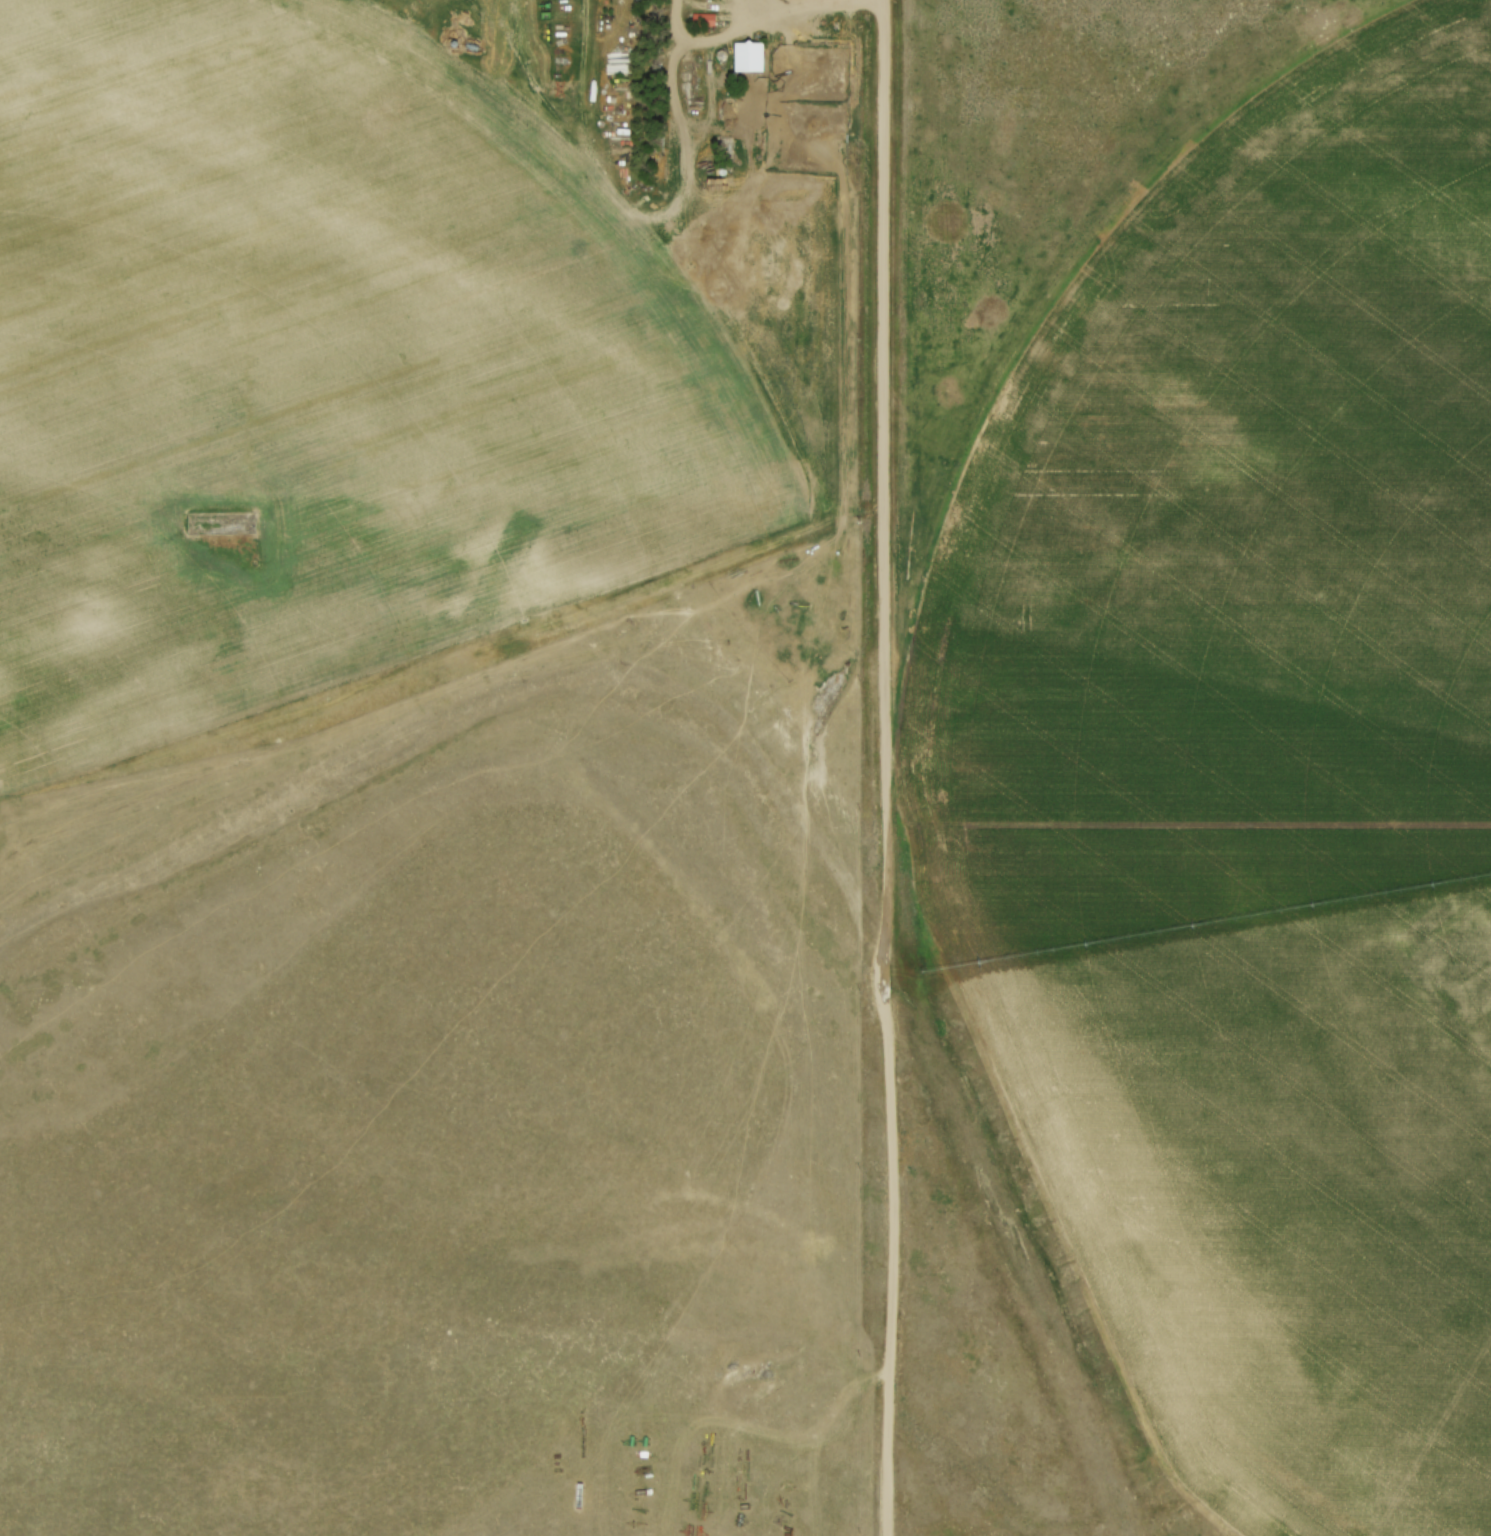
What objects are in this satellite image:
road: (785, 4)
building: (703, 18)
road: (718, 41)
building: (753, 60)
crop: (320, 374)
road: (888, 768)
crop: (1250, 778)

